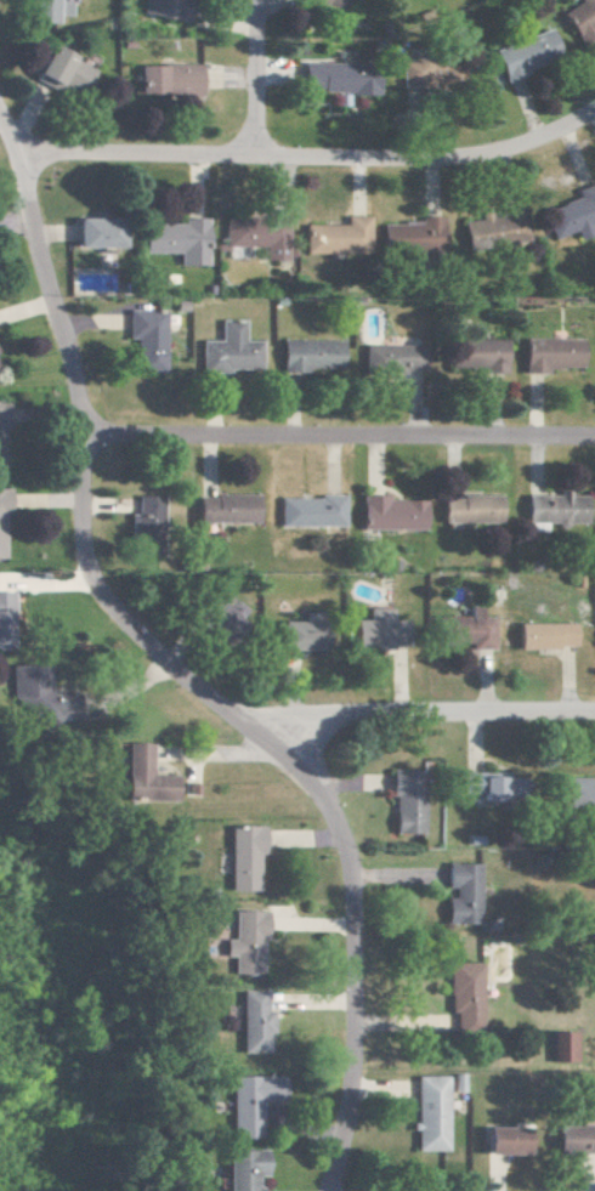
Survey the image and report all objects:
building: (319, 1)
building: (164, 7)
building: (44, 10)
building: (579, 18)
building: (523, 52)
building: (61, 70)
building: (427, 74)
road: (250, 75)
building: (335, 76)
building: (165, 79)
road: (1, 151)
road: (304, 153)
building: (571, 212)
building: (95, 232)
building: (491, 232)
building: (253, 234)
building: (408, 236)
building: (333, 237)
building: (174, 239)
building: (142, 339)
building: (225, 350)
building: (475, 353)
building: (548, 353)
building: (305, 355)
building: (386, 358)
road: (333, 436)
building: (221, 507)
building: (552, 507)
building: (466, 509)
building: (305, 511)
building: (386, 512)
building: (140, 524)
building: (0, 620)
building: (373, 629)
building: (461, 629)
building: (296, 633)
building: (540, 635)
road: (180, 680)
building: (23, 691)
road: (408, 709)
building: (137, 776)
building: (476, 787)
building: (573, 792)
building: (399, 801)
building: (238, 856)
building: (458, 894)
building: (240, 942)
building: (460, 996)
building: (249, 1022)
building: (557, 1047)
building: (245, 1102)
building: (424, 1113)
building: (572, 1140)
building: (500, 1141)
building: (238, 1169)

